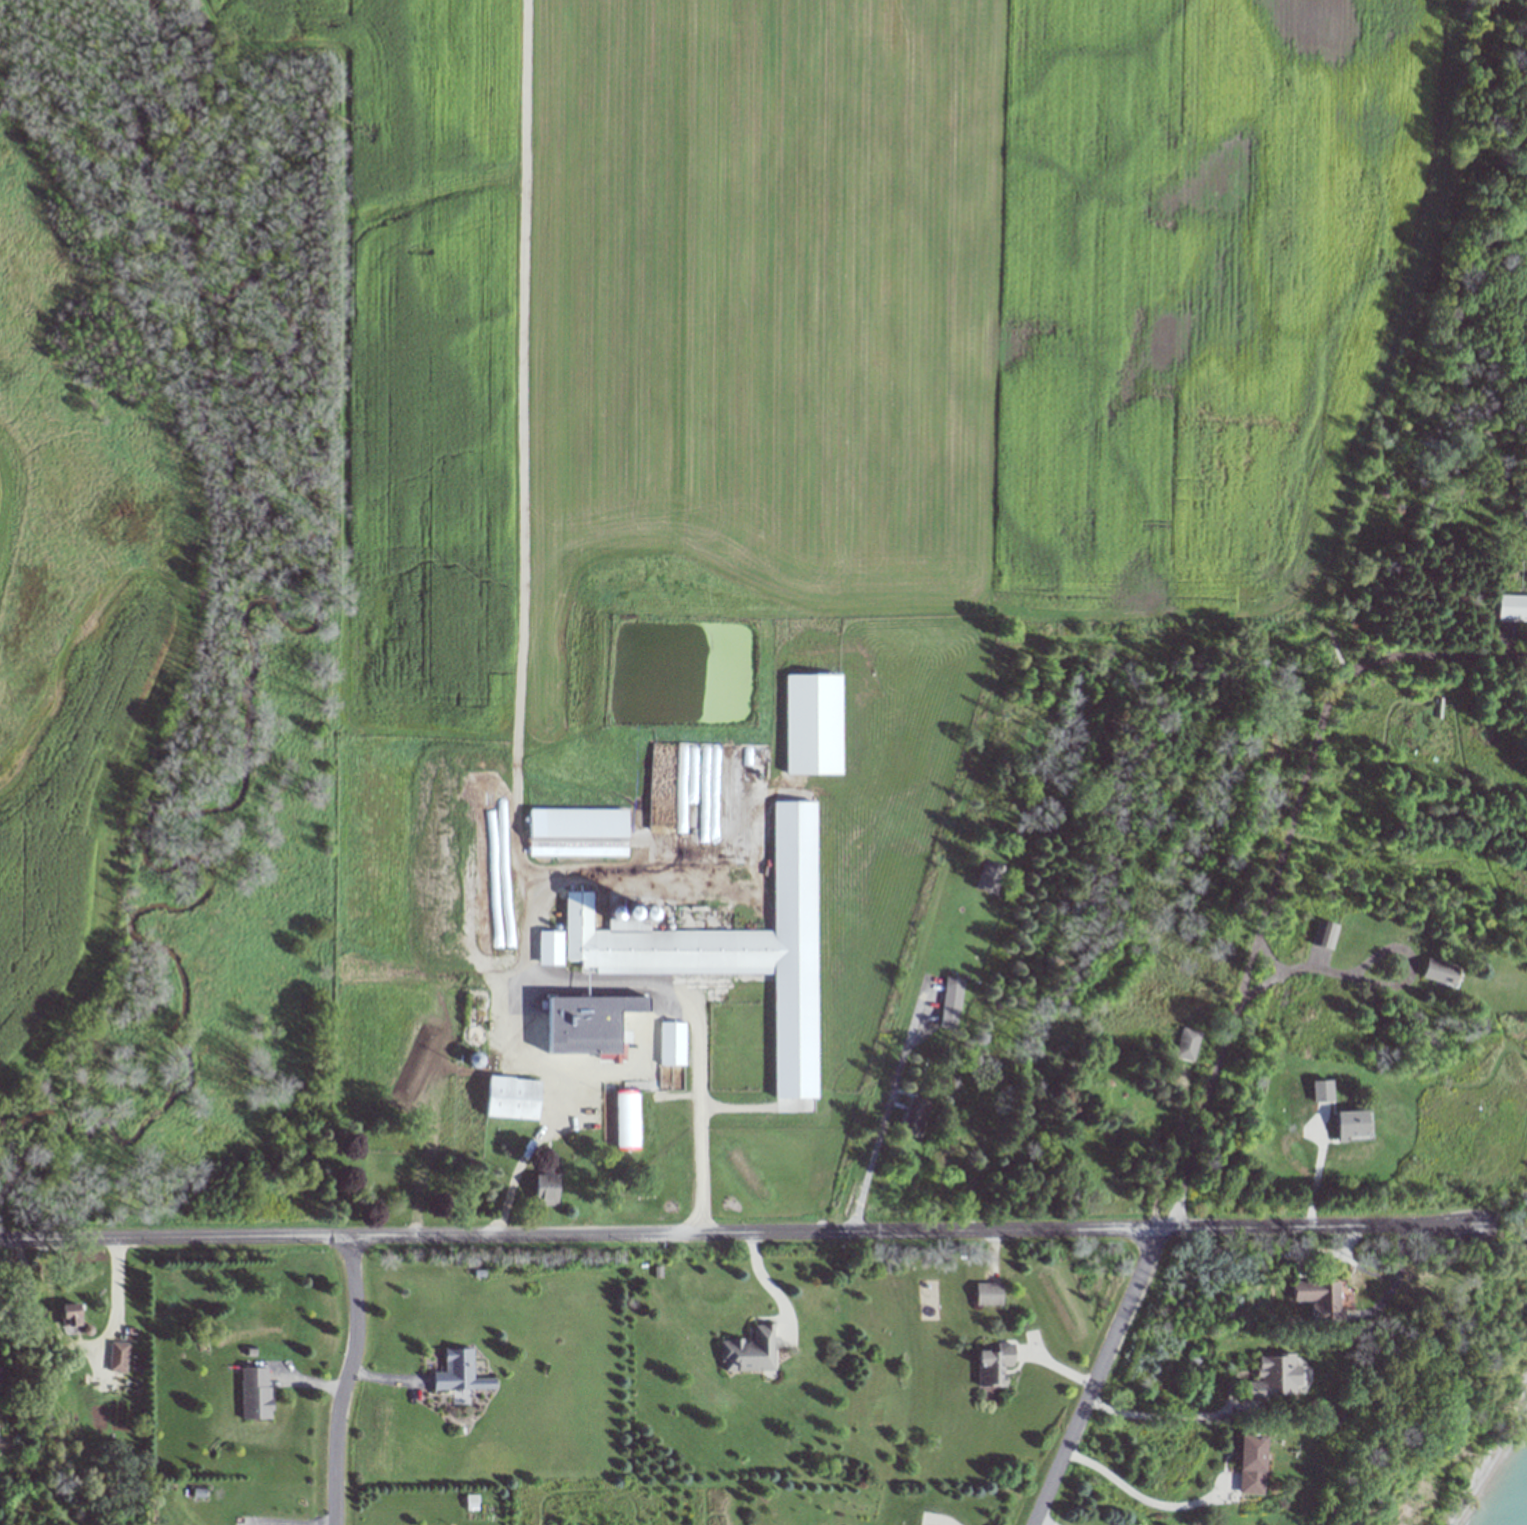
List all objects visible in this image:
building: (579, 823)
road: (1278, 857)
building: (988, 878)
building: (1326, 937)
building: (646, 941)
road: (1269, 954)
road: (588, 976)
road: (1370, 978)
building: (950, 1001)
building: (567, 1032)
building: (472, 1033)
building: (669, 1043)
building: (1187, 1043)
building: (1317, 1090)
building: (508, 1097)
building: (909, 1105)
building: (625, 1119)
road: (882, 1120)
building: (1345, 1125)
building: (393, 1162)
road: (738, 1231)
road: (34, 1271)
road: (24, 1278)
road: (769, 1284)
building: (985, 1294)
building: (1319, 1300)
building: (73, 1317)
road: (80, 1346)
building: (745, 1351)
building: (119, 1357)
building: (991, 1362)
building: (460, 1371)
road: (1095, 1376)
building: (1267, 1377)
road: (344, 1378)
building: (256, 1394)
road: (1165, 1415)
building: (0, 1457)
building: (1244, 1465)
road: (1136, 1494)
road: (935, 1521)
road: (1043, 1522)

